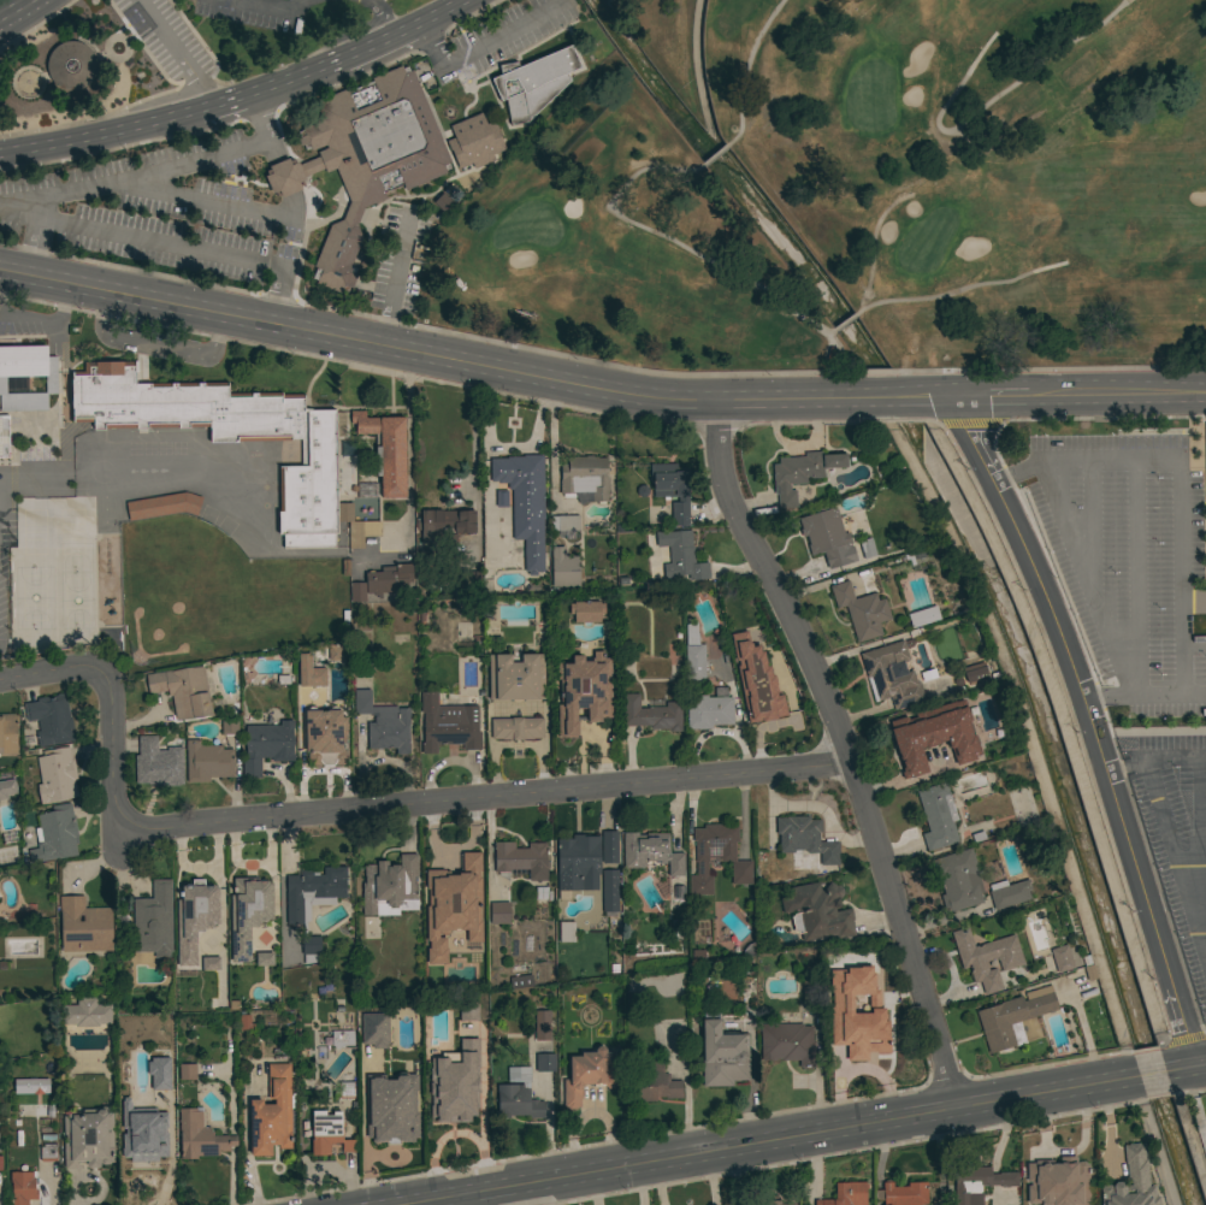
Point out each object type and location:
road: (291, 2)
road: (441, 10)
road: (18, 11)
road: (379, 16)
road: (138, 30)
parking lot: (165, 37)
road: (108, 40)
road: (480, 42)
road: (176, 49)
road: (100, 53)
building: (70, 64)
road: (319, 64)
road: (744, 72)
road: (23, 76)
road: (40, 76)
building: (533, 82)
road: (985, 105)
road: (107, 130)
building: (473, 141)
road: (272, 149)
building: (371, 156)
road: (713, 156)
building: (290, 173)
road: (284, 176)
park: (852, 193)
road: (202, 200)
road: (294, 203)
building: (444, 203)
parking lot: (161, 211)
road: (10, 212)
road: (870, 213)
road: (674, 244)
road: (34, 246)
parking lot: (398, 259)
road: (395, 277)
road: (959, 289)
road: (844, 320)
road: (829, 331)
road: (155, 342)
building: (25, 377)
road: (597, 386)
road: (473, 426)
building: (229, 435)
building: (4, 437)
building: (385, 450)
parking lot: (134, 455)
building: (800, 473)
building: (585, 478)
road: (1178, 478)
building: (672, 489)
building: (525, 503)
building: (161, 506)
building: (449, 521)
building: (566, 522)
building: (356, 526)
road: (1090, 526)
building: (827, 537)
parking lot: (1124, 547)
building: (865, 548)
building: (680, 555)
parking lot: (1, 560)
building: (563, 568)
park: (54, 571)
road: (1134, 575)
building: (388, 579)
road: (1084, 579)
building: (466, 583)
building: (357, 592)
park: (217, 593)
road: (1193, 602)
building: (585, 610)
building: (861, 610)
building: (923, 616)
road: (1072, 625)
road: (1193, 648)
building: (693, 654)
building: (309, 672)
building: (974, 673)
building: (892, 675)
building: (515, 678)
building: (182, 690)
building: (781, 690)
building: (581, 691)
road: (1143, 695)
building: (709, 710)
building: (650, 714)
building: (51, 719)
road: (1089, 721)
building: (383, 723)
building: (229, 726)
building: (448, 726)
building: (516, 728)
road: (1158, 730)
building: (7, 733)
building: (325, 737)
building: (910, 742)
building: (266, 745)
road: (844, 749)
road: (1164, 757)
building: (953, 760)
building: (207, 761)
building: (158, 763)
road: (1113, 767)
building: (55, 775)
building: (7, 788)
road: (351, 811)
building: (938, 815)
building: (57, 833)
parking lot: (1177, 834)
building: (973, 835)
building: (805, 838)
building: (609, 846)
road: (1196, 847)
building: (651, 852)
building: (716, 857)
building: (521, 858)
road: (1175, 861)
building: (578, 863)
building: (957, 880)
building: (390, 885)
building: (609, 890)
building: (313, 892)
building: (1009, 893)
building: (453, 904)
building: (818, 910)
building: (248, 912)
building: (499, 912)
building: (195, 917)
building: (154, 921)
building: (84, 926)
building: (566, 933)
building: (311, 949)
building: (986, 957)
building: (264, 958)
building: (1062, 958)
building: (211, 963)
building: (521, 981)
building: (833, 1000)
building: (87, 1014)
building: (1013, 1017)
building: (467, 1022)
building: (542, 1024)
building: (373, 1029)
building: (342, 1038)
building: (856, 1040)
building: (788, 1044)
building: (721, 1053)
building: (545, 1062)
road: (1186, 1067)
building: (188, 1071)
building: (589, 1074)
road: (1154, 1075)
building: (654, 1083)
building: (30, 1086)
building: (345, 1089)
building: (518, 1095)
building: (166, 1099)
building: (390, 1107)
road: (1194, 1107)
building: (461, 1109)
building: (272, 1114)
building: (327, 1133)
building: (200, 1136)
building: (88, 1138)
road: (778, 1141)
building: (47, 1152)
building: (0, 1163)
building: (144, 1163)
road: (737, 1176)
building: (1130, 1182)
building: (977, 1183)
building: (1058, 1183)
building: (23, 1187)
building: (846, 1194)
building: (901, 1194)
road: (463, 1200)
building: (773, 1203)

